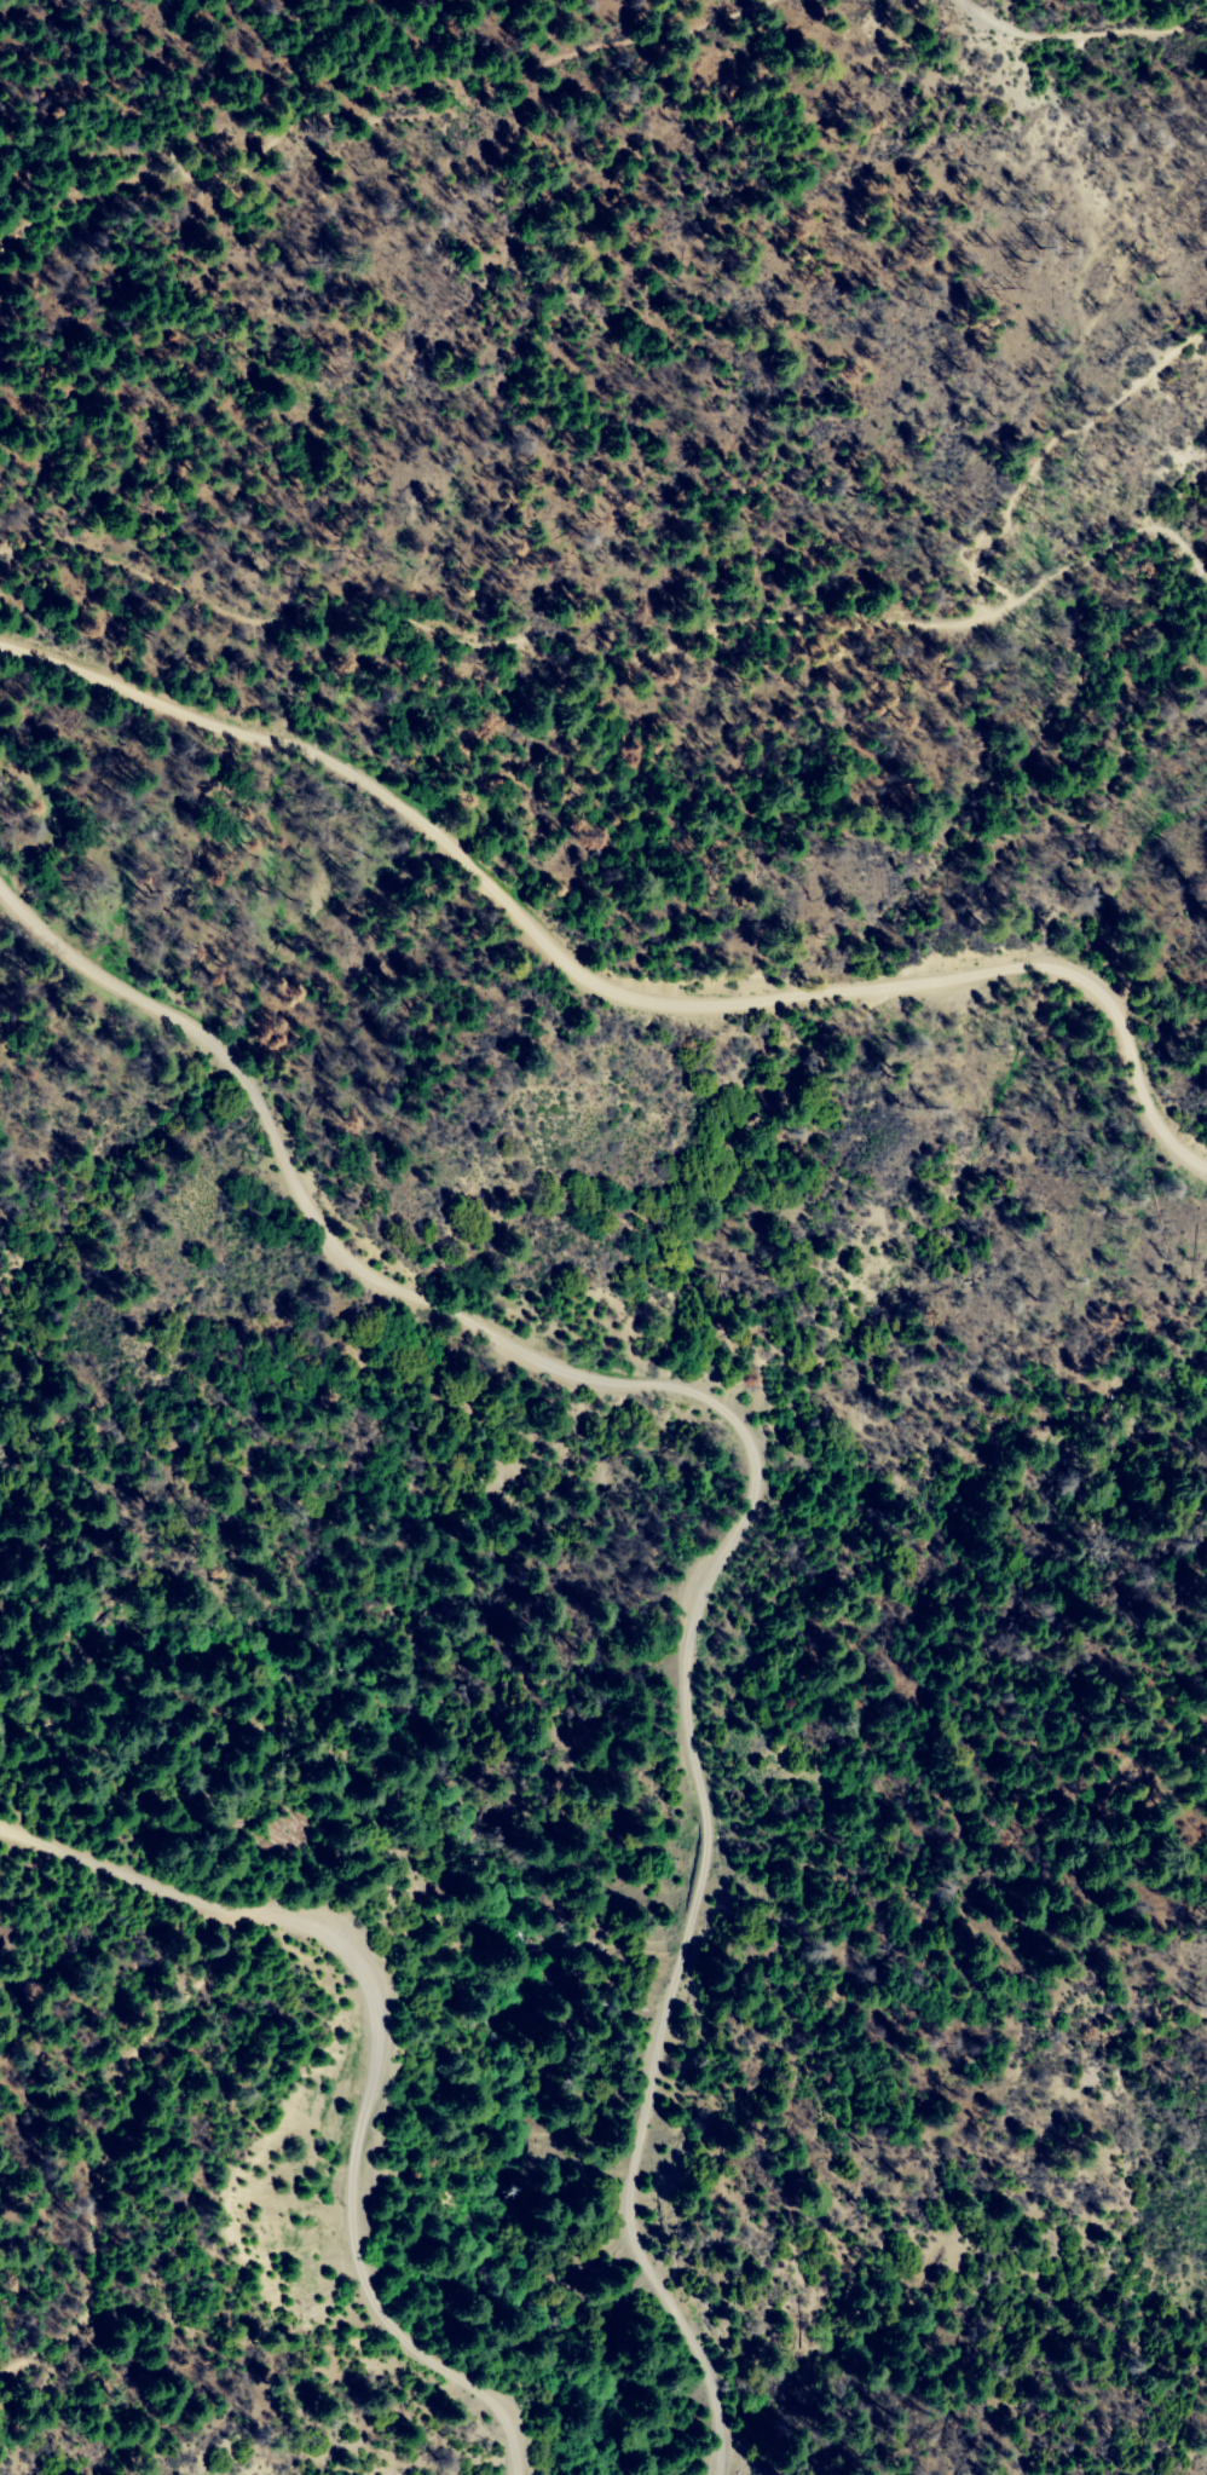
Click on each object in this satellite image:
road: (611, 988)
road: (762, 1481)
road: (374, 2064)

